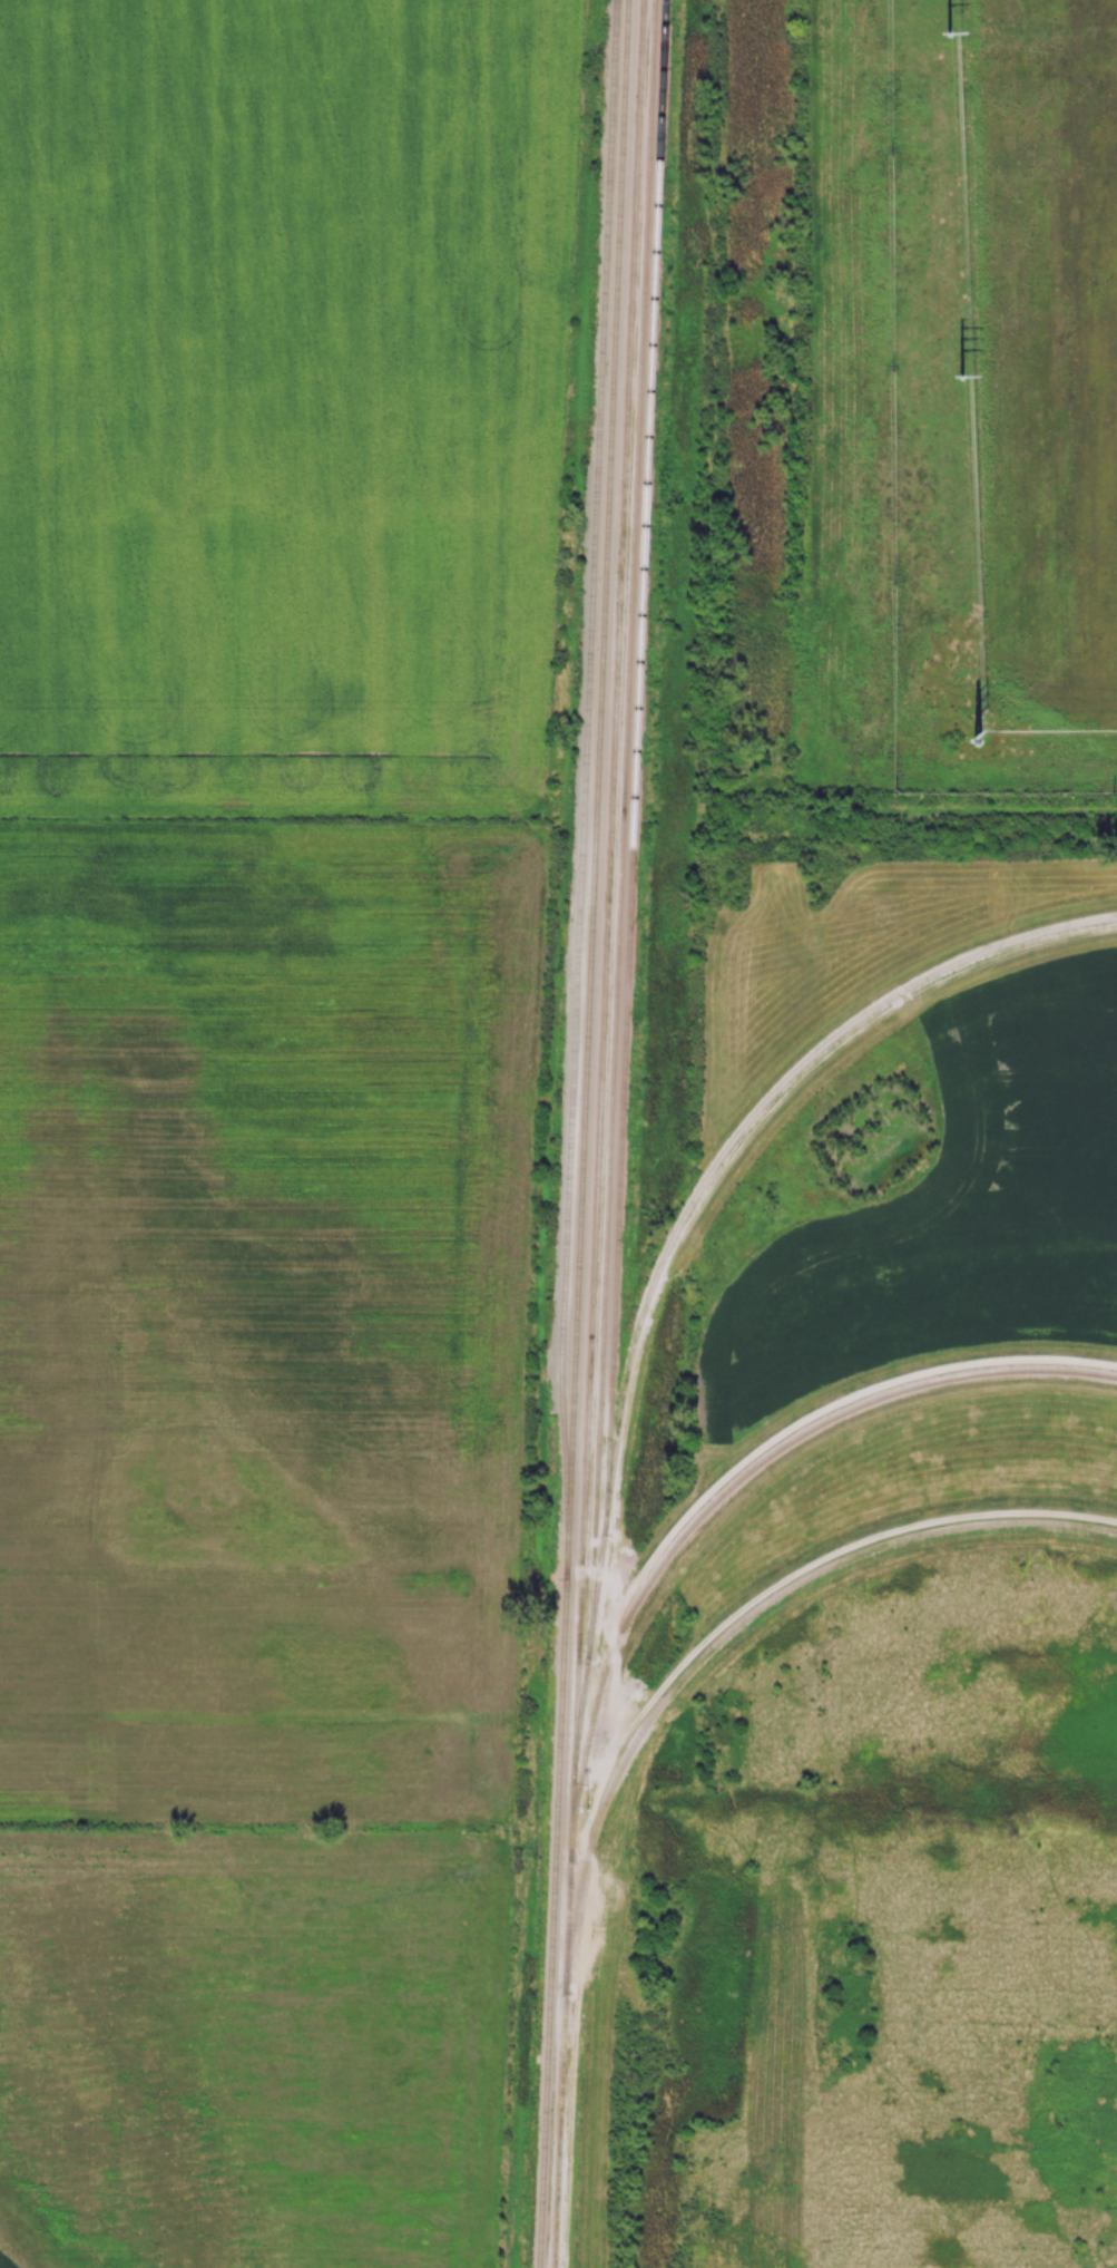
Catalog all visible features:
power tower: (945, 38)
power tower: (958, 377)
power tower: (974, 747)
railway: (588, 783)
railway: (637, 789)
railway: (625, 825)
railway: (609, 893)
railway: (586, 1133)
railway: (617, 1467)
railway: (747, 1474)
road: (791, 1576)
railway: (741, 1624)

